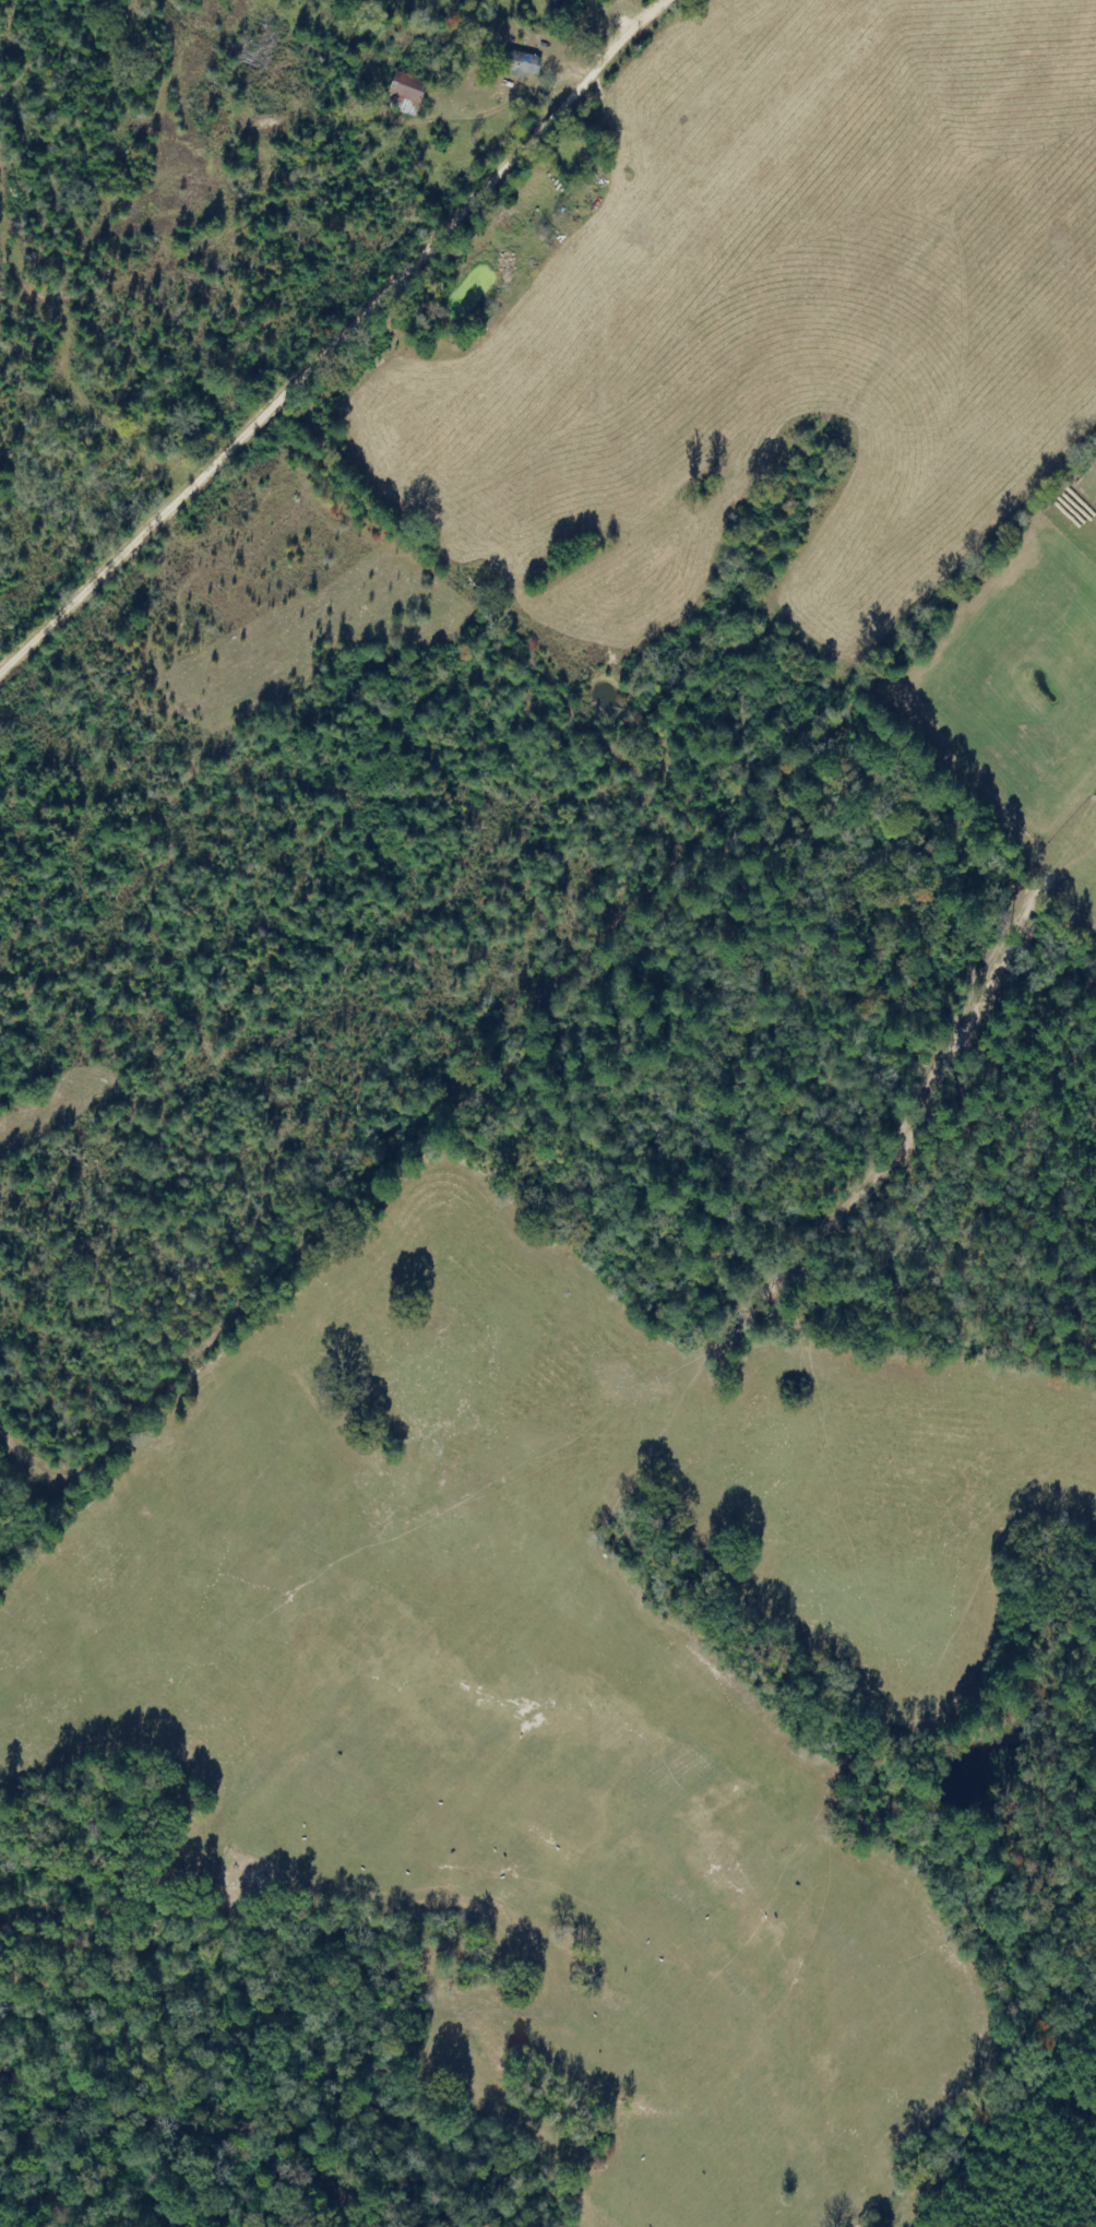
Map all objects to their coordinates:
building: (524, 64)
building: (412, 90)
road: (339, 341)

